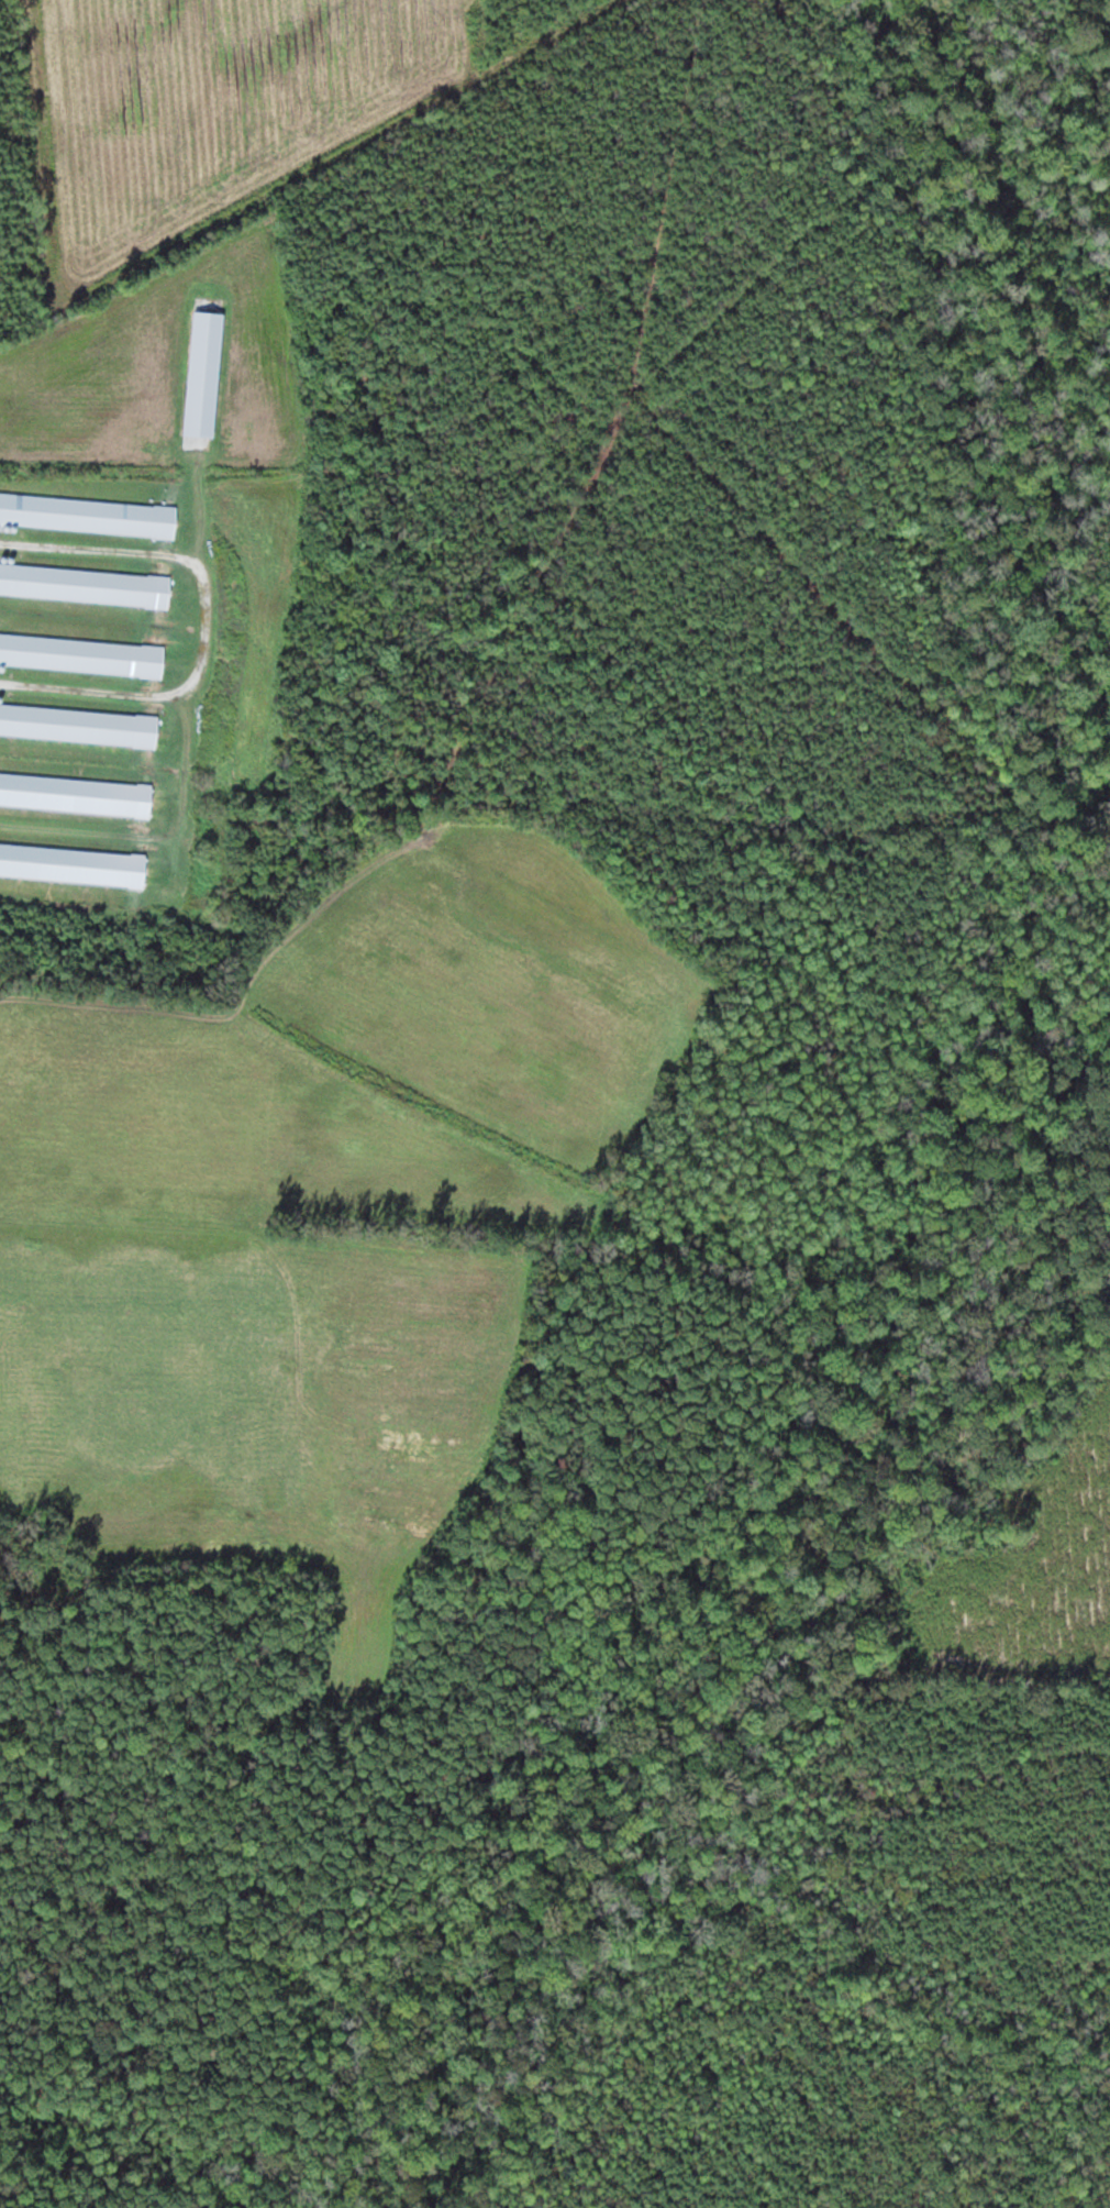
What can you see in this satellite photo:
building: (206, 373)
building: (88, 514)
building: (86, 583)
building: (82, 653)
building: (79, 722)
building: (77, 793)
building: (74, 863)

